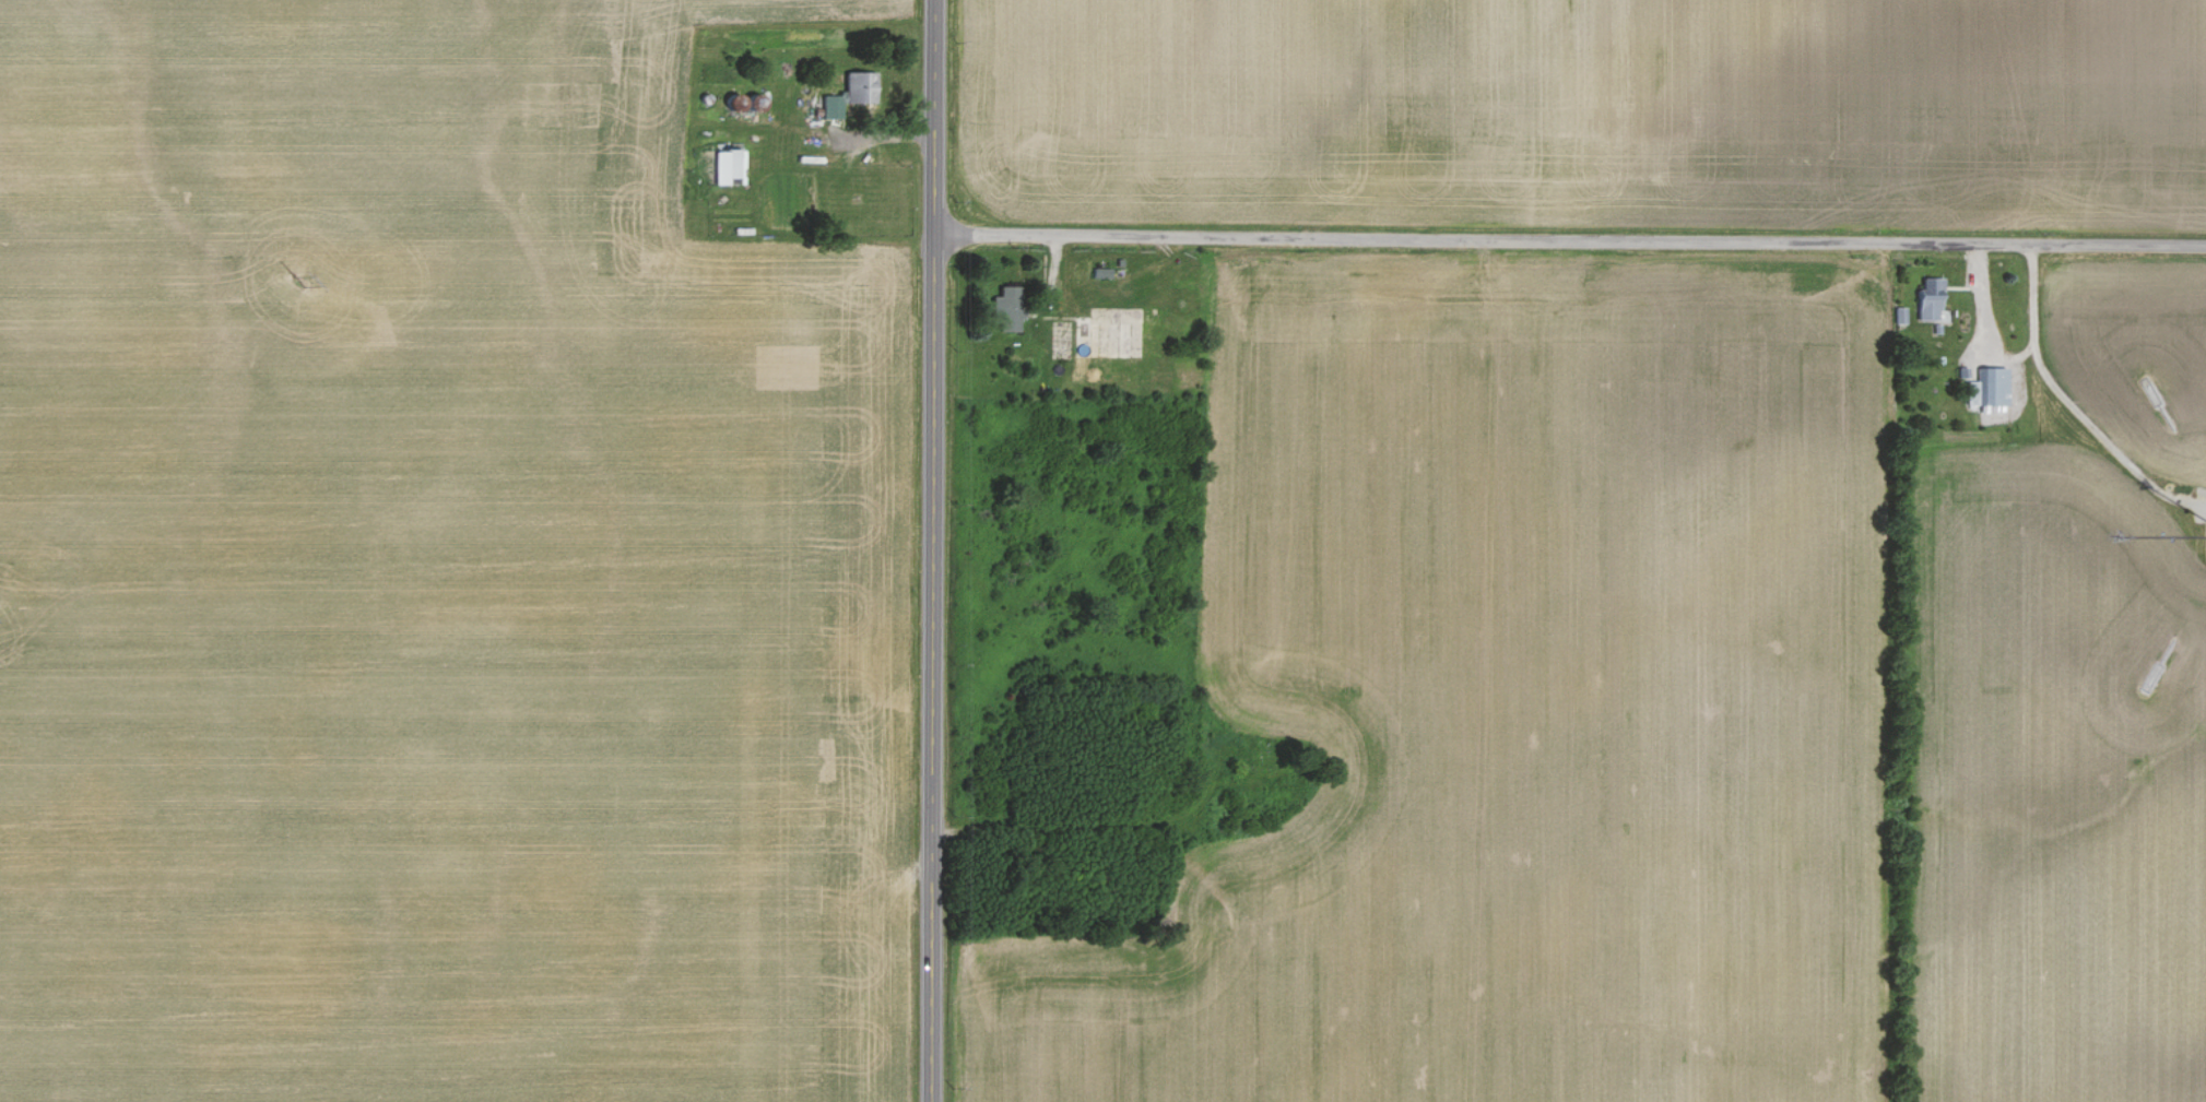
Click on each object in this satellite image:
building: (723, 164)
road: (1571, 242)
power tower: (297, 280)
building: (1006, 307)
road: (1983, 318)
road: (2071, 401)
road: (934, 550)
park: (1274, 758)

